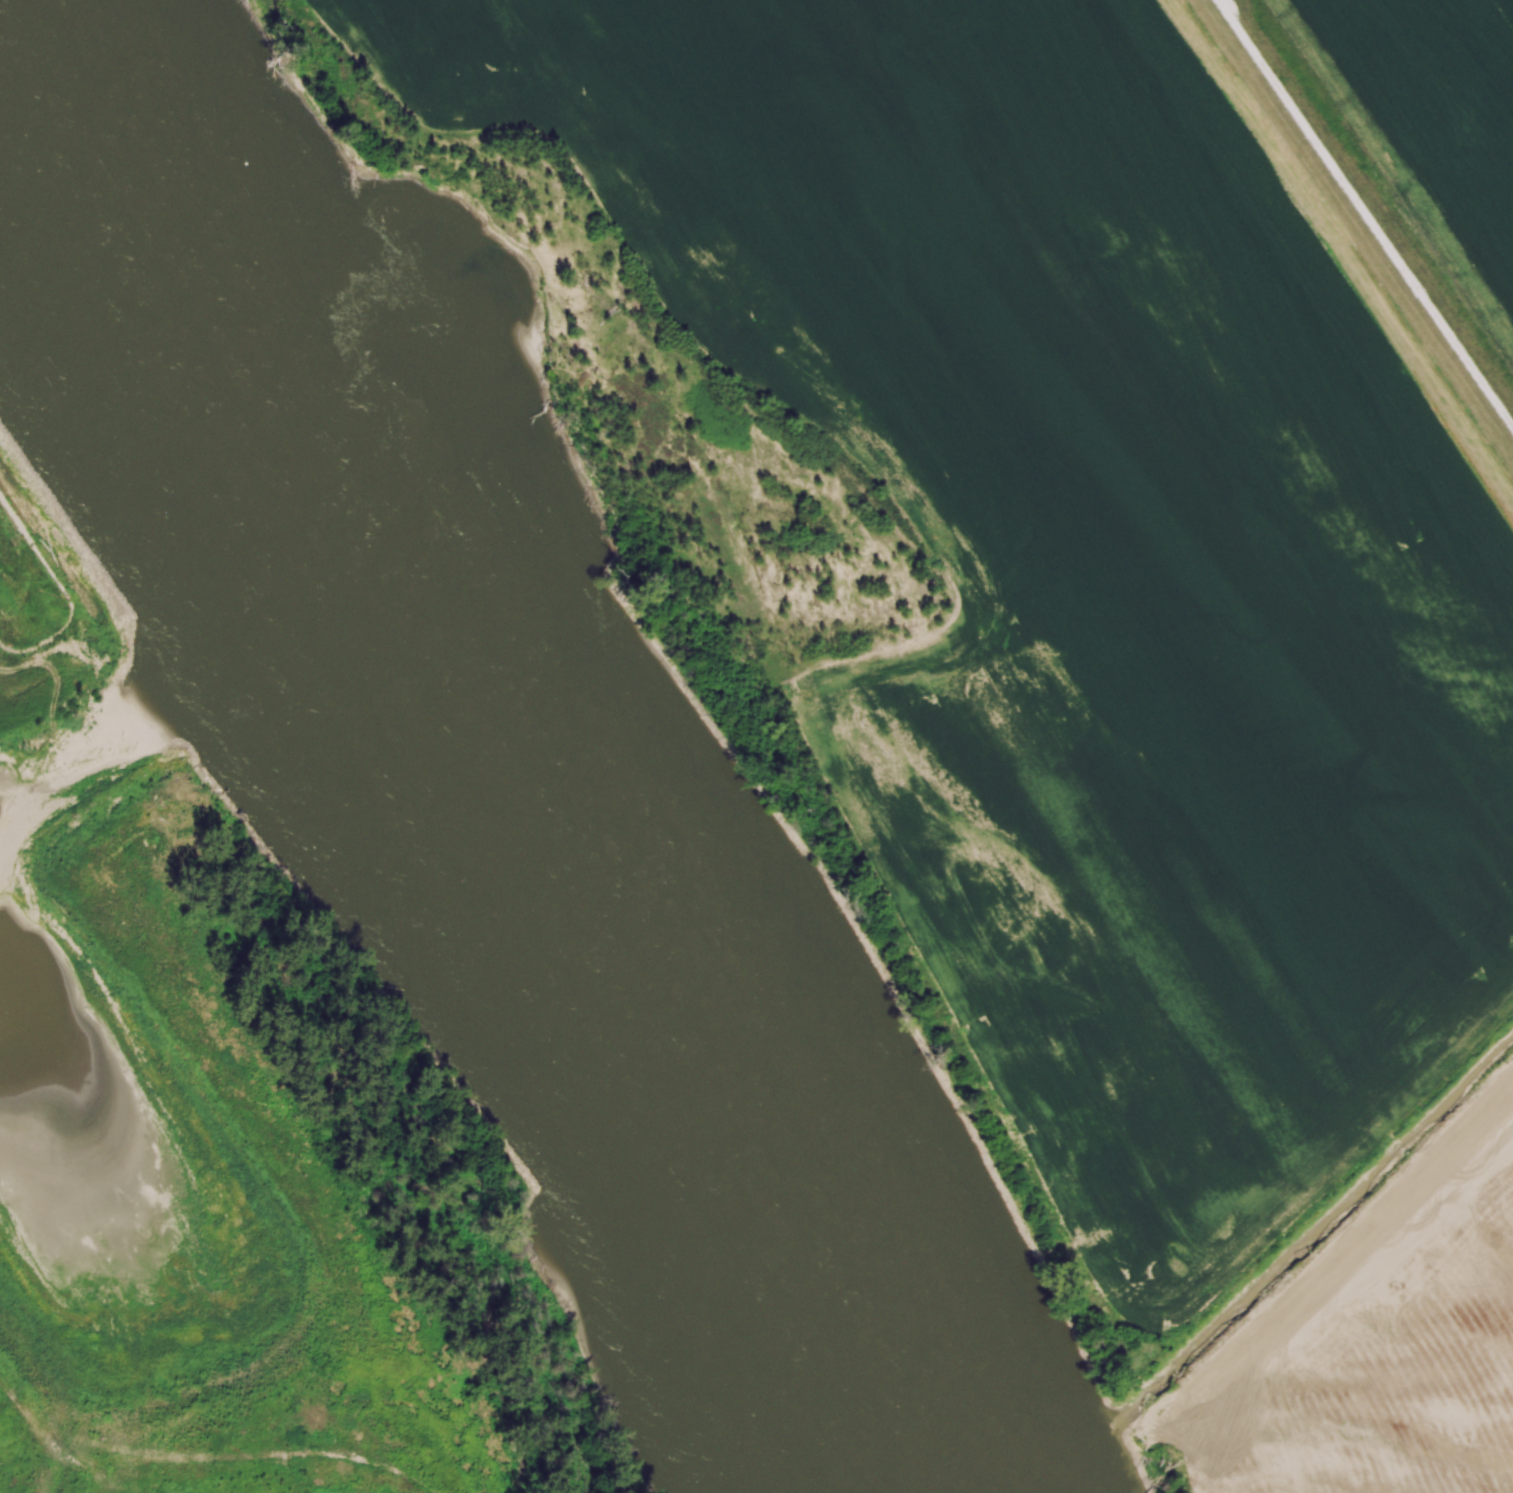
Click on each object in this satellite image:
road: (1366, 211)
crop: (1092, 562)
road: (62, 591)
river: (453, 764)
park: (230, 1135)
road: (1312, 1262)
road: (206, 1466)

